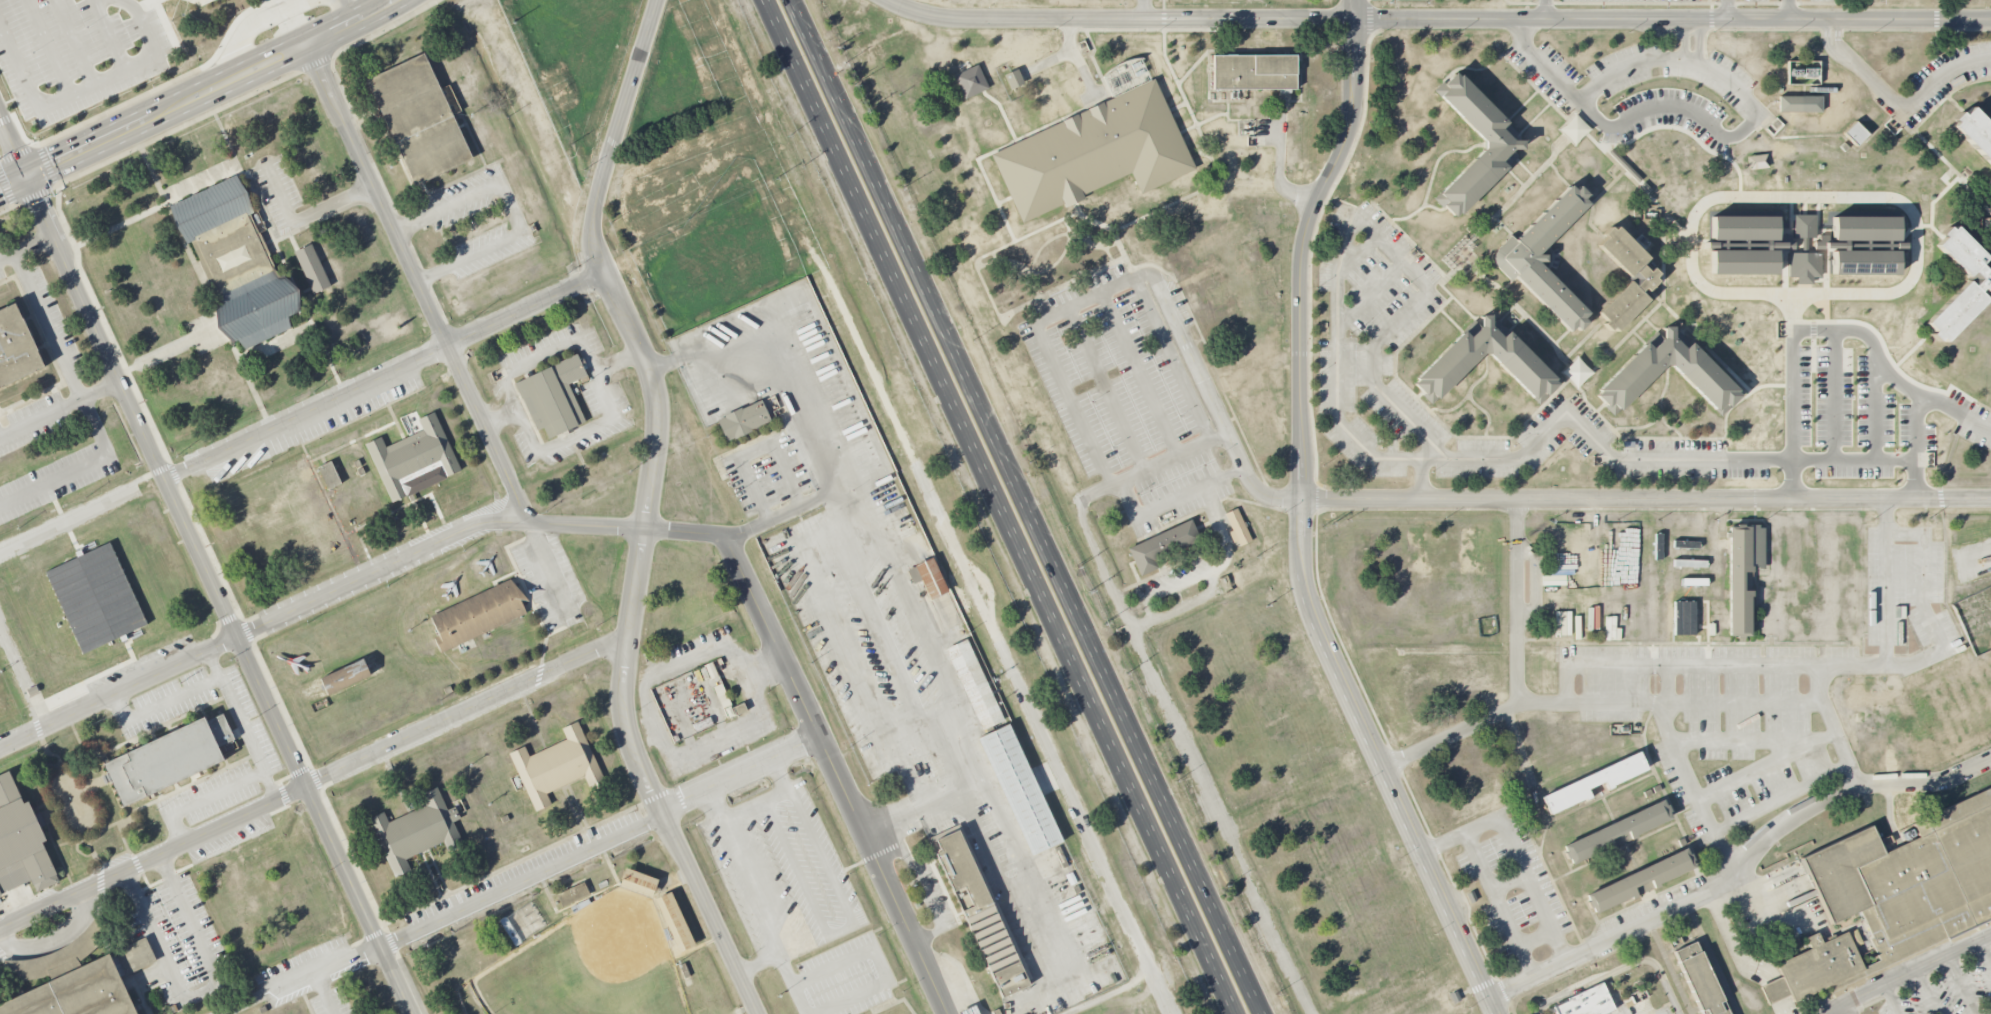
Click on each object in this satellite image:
parking lot: (1698, 0)
road: (148, 3)
road: (1144, 10)
road: (1545, 11)
road: (1727, 11)
road: (1789, 11)
road: (945, 17)
road: (1497, 22)
road: (166, 26)
road: (1913, 29)
road: (1755, 30)
road: (1832, 33)
road: (109, 34)
road: (1837, 39)
road: (1684, 41)
road: (1826, 41)
road: (73, 42)
road: (1699, 43)
road: (48, 47)
parking lot: (76, 52)
road: (1061, 55)
road: (1510, 62)
building: (1255, 70)
road: (1083, 71)
building: (1014, 78)
building: (971, 80)
parking lot: (1942, 80)
road: (1601, 85)
road: (86, 87)
parking lot: (1650, 90)
road: (1947, 93)
road: (146, 94)
road: (200, 98)
building: (1800, 103)
road: (1912, 103)
road: (1522, 105)
road: (219, 109)
road: (1696, 115)
building: (419, 119)
road: (1532, 120)
road: (1576, 126)
road: (1677, 128)
building: (1976, 129)
building: (1855, 132)
road: (1841, 135)
road: (617, 137)
building: (1504, 142)
building: (1095, 152)
building: (1757, 161)
road: (46, 165)
road: (1523, 167)
road: (1279, 168)
road: (1435, 170)
road: (1611, 171)
road: (1557, 174)
road: (1957, 174)
road: (1514, 177)
traffic signals: (29, 180)
road: (1983, 189)
road: (6, 190)
parking lot: (281, 193)
road: (1645, 193)
road: (1975, 195)
road: (463, 197)
road: (1803, 197)
road: (1592, 202)
road: (1589, 204)
road: (1379, 209)
road: (512, 210)
road: (304, 219)
road: (409, 221)
building: (1804, 225)
building: (1743, 226)
building: (1865, 227)
road: (1932, 227)
road: (1504, 228)
road: (1906, 234)
road: (1405, 236)
road: (27, 247)
road: (479, 251)
road: (1361, 255)
building: (1545, 256)
road: (1552, 256)
building: (1743, 260)
building: (235, 261)
building: (1865, 261)
building: (1804, 266)
building: (312, 268)
parking lot: (2, 273)
road: (432, 273)
building: (1642, 277)
building: (1977, 284)
road: (1990, 292)
road: (1374, 295)
road: (1656, 296)
road: (1826, 308)
road: (1465, 310)
road: (529, 312)
road: (1506, 313)
road: (1674, 314)
parking lot: (52, 320)
road: (1450, 320)
road: (1852, 321)
road: (1516, 323)
road: (1652, 325)
road: (47, 326)
road: (1684, 330)
road: (1562, 336)
road: (1638, 337)
road: (1584, 338)
parking lot: (1831, 338)
road: (1045, 342)
road: (1619, 343)
building: (16, 347)
road: (176, 348)
road: (547, 348)
road: (119, 355)
road: (1172, 360)
road: (1574, 363)
building: (1449, 365)
road: (1139, 375)
building: (1703, 376)
road: (1893, 377)
road: (1919, 384)
road: (1561, 385)
road: (1341, 389)
road: (1106, 390)
road: (604, 392)
parking lot: (1135, 394)
road: (1419, 394)
road: (1469, 395)
road: (1833, 395)
building: (552, 396)
road: (658, 397)
road: (1214, 405)
road: (60, 407)
road: (798, 408)
road: (1452, 408)
road: (1876, 409)
road: (1957, 412)
road: (309, 414)
road: (1726, 414)
parking lot: (34, 420)
building: (743, 420)
road: (1629, 429)
road: (527, 430)
road: (577, 435)
road: (1662, 439)
building: (415, 459)
road: (78, 465)
building: (329, 474)
road: (1425, 481)
road: (1645, 499)
road: (1173, 501)
road: (1001, 506)
road: (1029, 507)
road: (1300, 522)
road: (61, 526)
building: (1238, 527)
road: (627, 528)
road: (1086, 532)
road: (1224, 541)
building: (1162, 545)
road: (954, 548)
road: (208, 565)
building: (1743, 573)
building: (928, 578)
parking lot: (1179, 579)
road: (1539, 583)
road: (1889, 585)
road: (1168, 589)
building: (95, 597)
parking lot: (1907, 598)
road: (1519, 603)
road: (1174, 609)
building: (1685, 613)
building: (477, 615)
road: (263, 628)
road: (1827, 668)
building: (344, 676)
road: (23, 678)
building: (973, 684)
road: (1600, 703)
road: (159, 704)
building: (738, 709)
parking lot: (1725, 713)
building: (703, 724)
road: (242, 727)
road: (1837, 727)
road: (1759, 741)
parking lot: (258, 748)
building: (169, 757)
building: (555, 766)
road: (1771, 767)
road: (1689, 770)
road: (649, 780)
road: (314, 782)
building: (1594, 782)
building: (1018, 789)
road: (770, 796)
road: (1784, 799)
road: (202, 800)
building: (1617, 831)
building: (416, 832)
building: (21, 842)
road: (1515, 853)
road: (1738, 864)
road: (542, 868)
building: (1640, 880)
road: (1004, 881)
building: (638, 882)
road: (1508, 882)
road: (753, 891)
parking lot: (1513, 892)
building: (1897, 892)
road: (1499, 904)
building: (978, 908)
building: (675, 922)
road: (839, 929)
road: (1535, 938)
road: (1985, 952)
park: (584, 965)
road: (1618, 969)
building: (80, 973)
road: (1908, 973)
parking lot: (1939, 979)
building: (1699, 980)
road: (1960, 984)
road: (200, 991)
road: (328, 991)
road: (1925, 992)
road: (1891, 999)
parking lot: (328, 1000)
building: (1587, 1002)
road: (239, 1004)
parking lot: (1647, 1007)
road: (1850, 1008)
building: (969, 1010)

